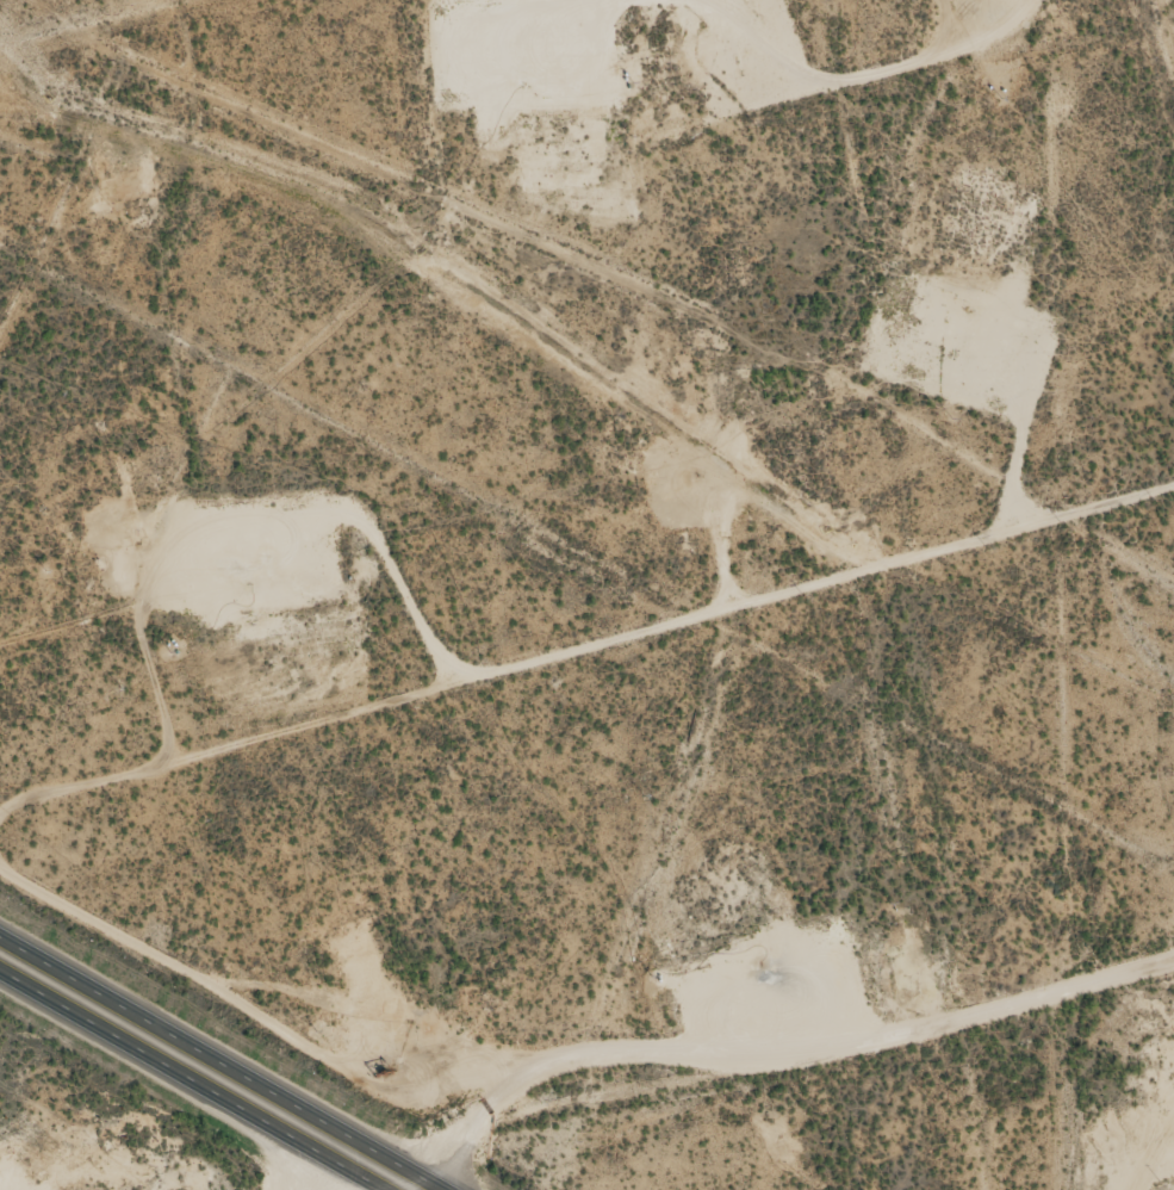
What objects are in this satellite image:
road: (1169, 17)
road: (219, 1064)
road: (188, 1081)
road: (766, 1090)

